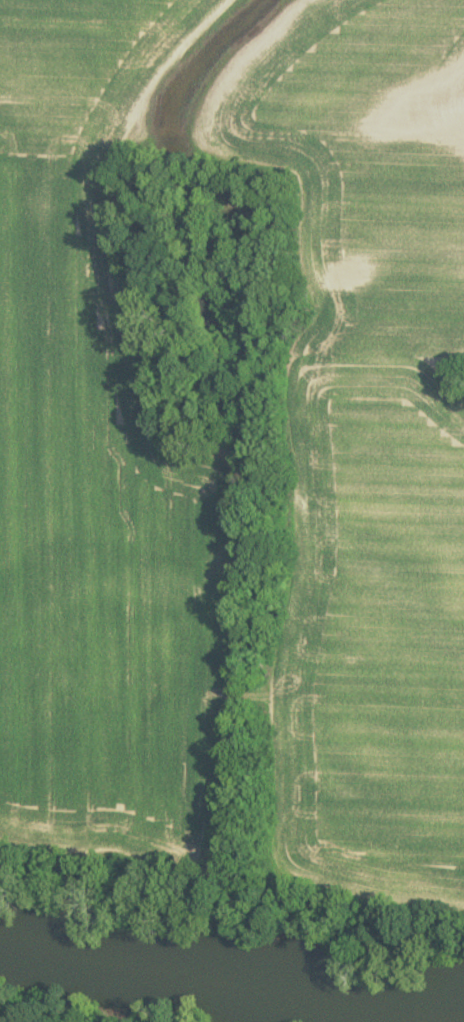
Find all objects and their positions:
river: (227, 985)

